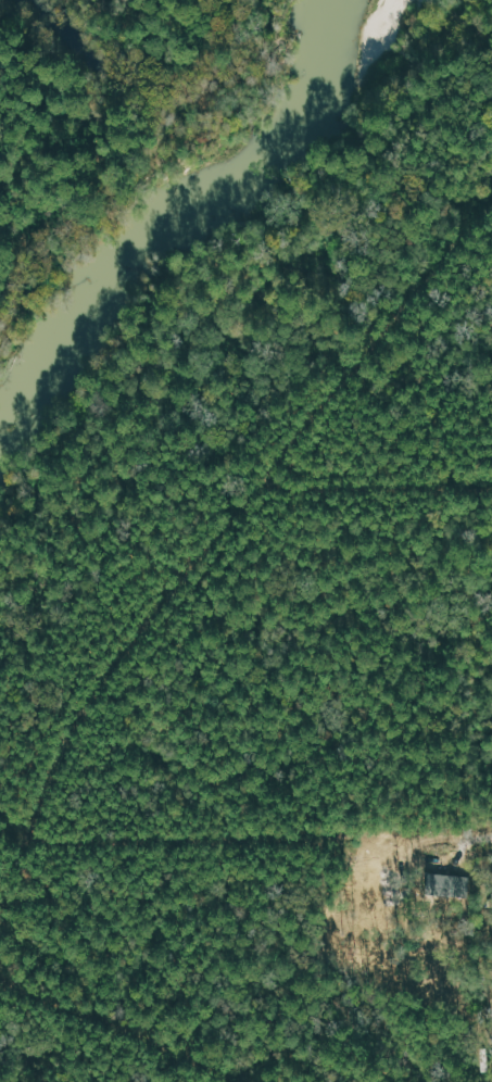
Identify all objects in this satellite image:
river: (163, 205)
road: (382, 348)
road: (382, 483)
road: (137, 646)
road: (262, 838)
road: (70, 999)

